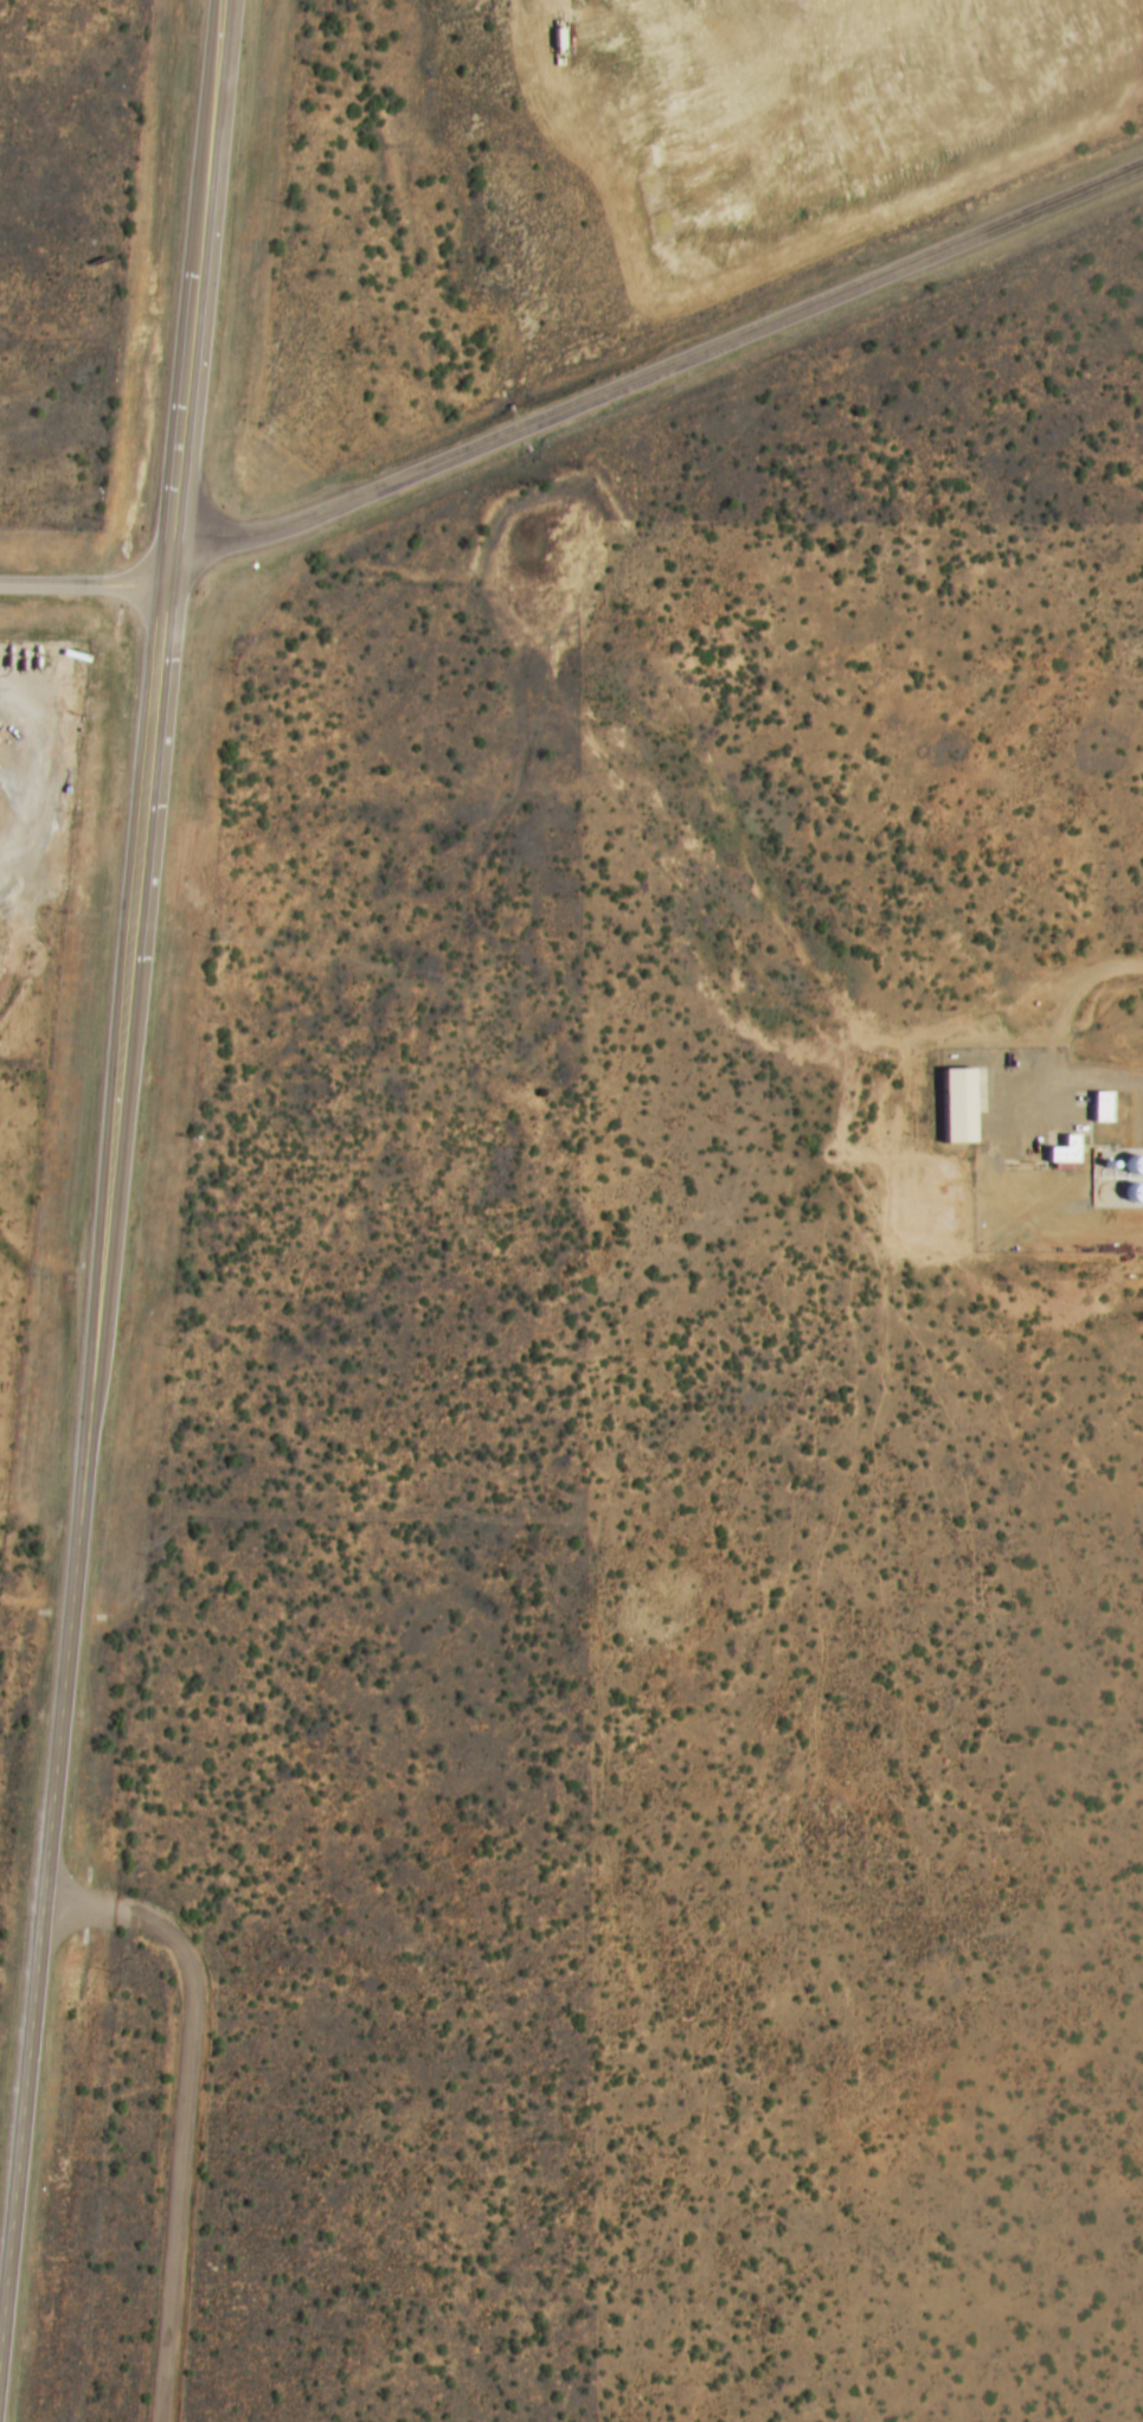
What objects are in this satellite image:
road: (662, 369)
road: (84, 585)
building: (957, 1107)
building: (1100, 1108)
building: (1064, 1152)
road: (111, 1168)

